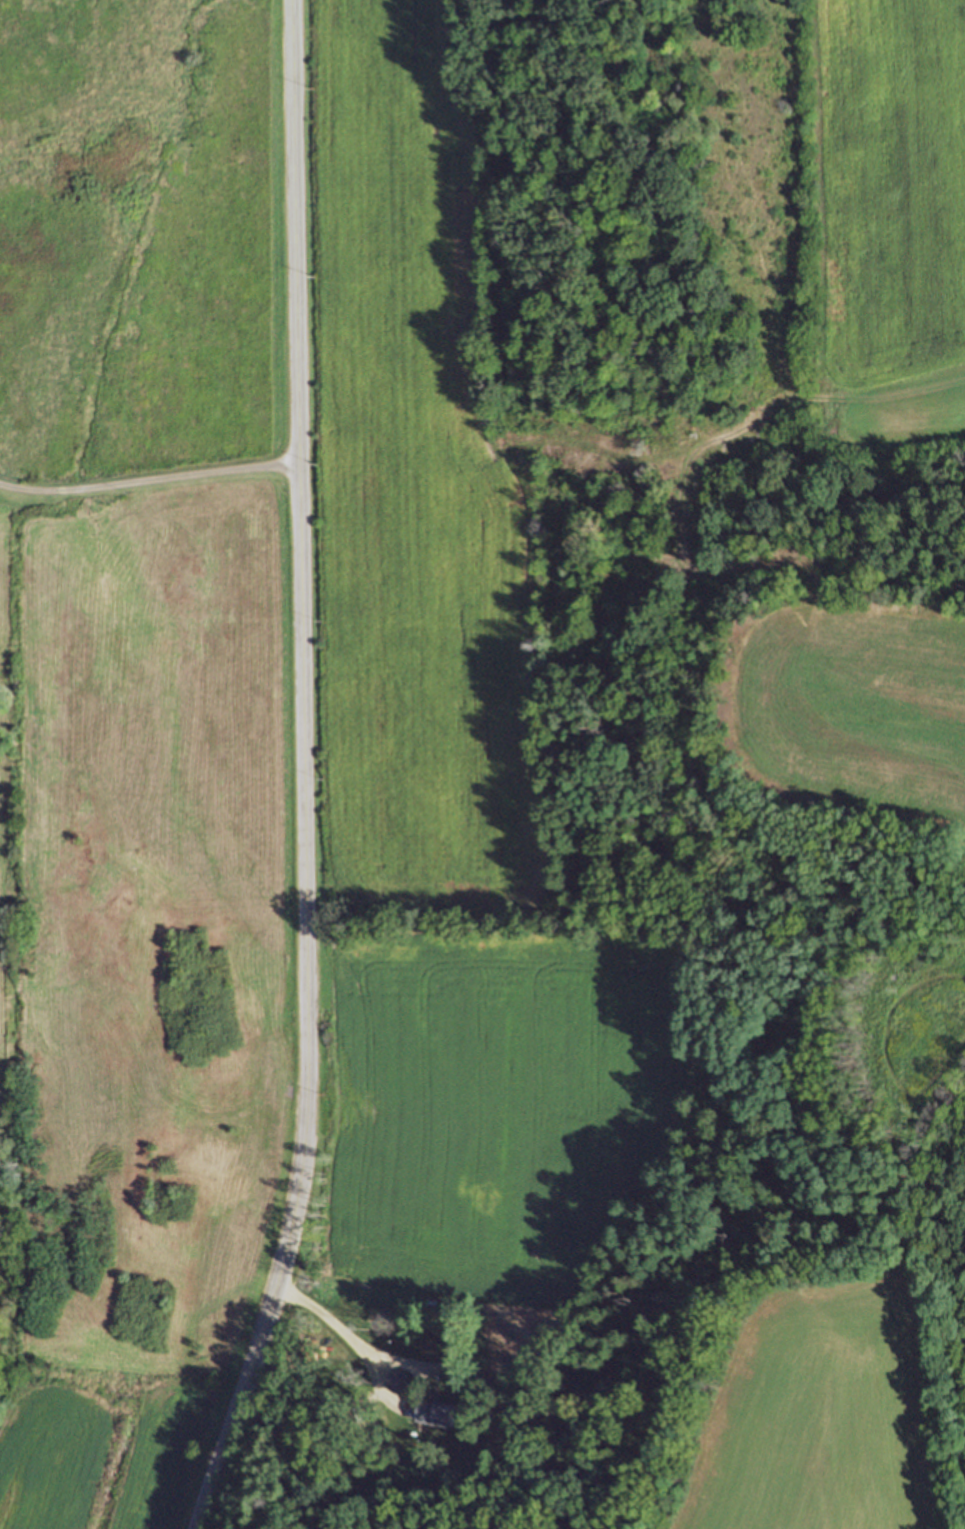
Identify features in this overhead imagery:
road: (149, 483)
road: (304, 772)
road: (376, 1381)
building: (399, 1383)
building: (437, 1408)

